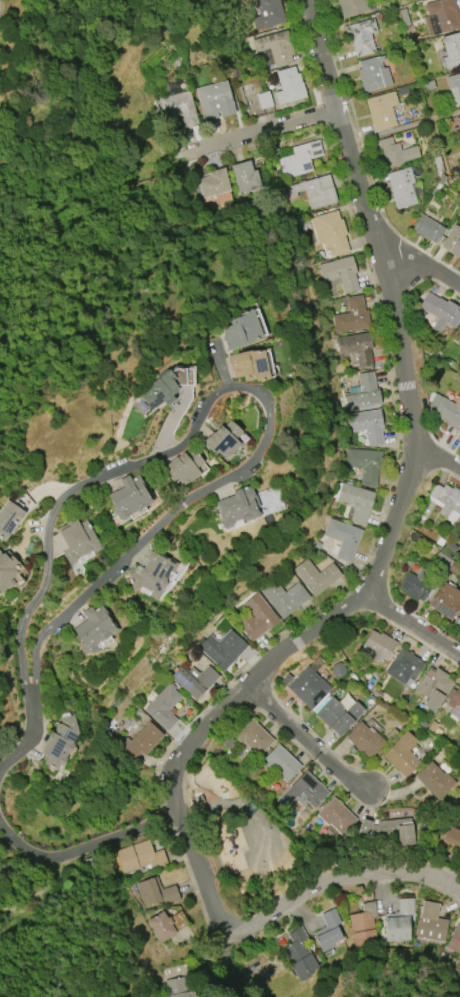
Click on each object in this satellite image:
building: (352, 7)
building: (268, 14)
building: (441, 16)
building: (404, 18)
building: (361, 37)
building: (275, 47)
building: (451, 52)
building: (373, 74)
building: (289, 86)
building: (428, 86)
building: (454, 89)
building: (403, 91)
building: (264, 100)
building: (214, 101)
building: (177, 110)
building: (381, 110)
building: (458, 122)
road: (342, 129)
road: (261, 132)
building: (395, 152)
building: (300, 159)
building: (244, 177)
building: (213, 183)
building: (401, 187)
building: (315, 191)
building: (427, 229)
building: (330, 232)
building: (452, 242)
road: (424, 266)
building: (340, 274)
building: (440, 311)
building: (352, 316)
building: (241, 331)
building: (459, 331)
building: (357, 348)
road: (221, 361)
building: (249, 366)
road: (241, 384)
building: (170, 391)
building: (363, 393)
building: (446, 410)
building: (367, 425)
road: (167, 431)
building: (458, 437)
building: (223, 440)
building: (459, 444)
road: (438, 456)
building: (364, 464)
building: (183, 467)
building: (138, 499)
building: (446, 499)
building: (356, 502)
building: (238, 507)
building: (20, 516)
building: (343, 539)
building: (83, 543)
building: (9, 571)
building: (153, 575)
road: (373, 575)
building: (316, 576)
building: (415, 585)
building: (284, 597)
building: (445, 600)
building: (256, 618)
building: (458, 621)
road: (414, 624)
building: (94, 629)
building: (378, 647)
building: (222, 649)
building: (403, 666)
building: (194, 681)
building: (308, 688)
building: (432, 688)
building: (454, 703)
building: (163, 707)
building: (338, 716)
building: (253, 737)
road: (306, 739)
building: (142, 741)
building: (365, 741)
building: (59, 742)
road: (24, 745)
building: (401, 755)
building: (280, 763)
building: (434, 781)
building: (303, 792)
building: (336, 816)
building: (389, 830)
building: (452, 837)
park: (241, 840)
park: (264, 846)
road: (84, 850)
building: (139, 857)
building: (156, 892)
road: (283, 905)
building: (398, 922)
building: (431, 924)
building: (161, 926)
building: (364, 927)
building: (328, 931)
building: (455, 939)
building: (299, 955)
building: (177, 988)

